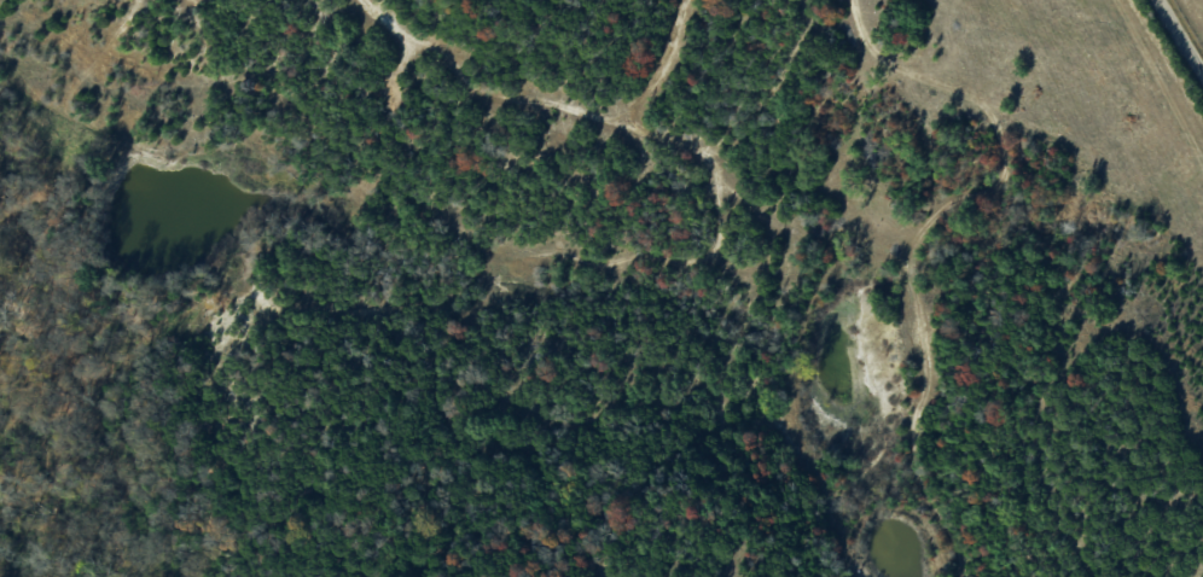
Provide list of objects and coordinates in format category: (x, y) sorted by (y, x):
road: (1180, 39)

